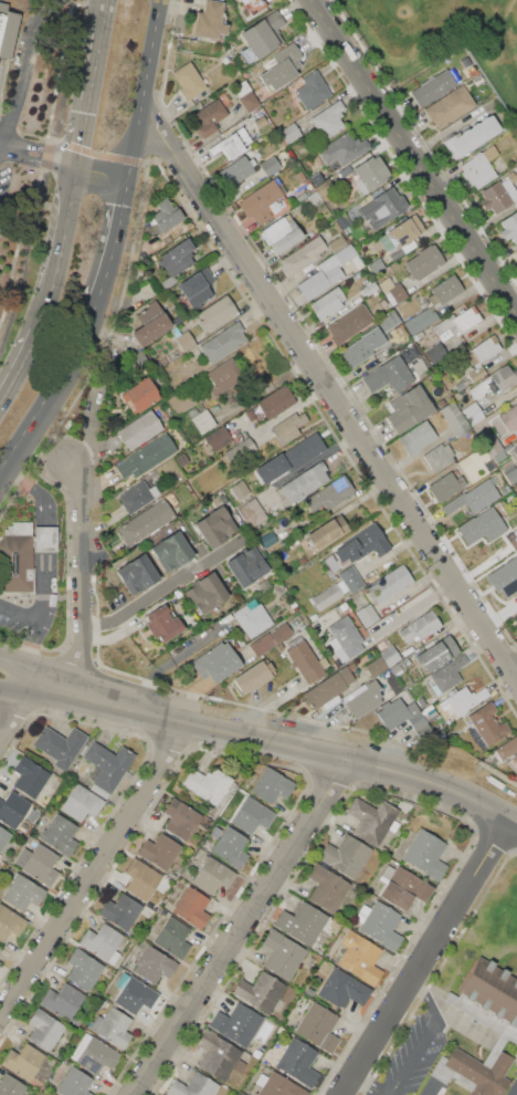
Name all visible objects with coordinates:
road: (109, 0)
building: (243, 1)
building: (253, 6)
road: (109, 18)
building: (209, 20)
building: (1, 23)
building: (262, 36)
park: (442, 36)
building: (466, 61)
building: (283, 66)
road: (24, 70)
building: (471, 71)
building: (189, 81)
building: (433, 87)
building: (313, 90)
road: (147, 91)
building: (246, 95)
road: (94, 102)
building: (450, 106)
building: (209, 117)
building: (328, 121)
building: (252, 124)
building: (291, 133)
building: (471, 136)
building: (231, 144)
road: (43, 147)
building: (342, 149)
road: (415, 155)
road: (39, 163)
building: (271, 165)
building: (479, 167)
building: (239, 169)
building: (345, 170)
building: (371, 174)
road: (106, 175)
building: (316, 178)
building: (516, 184)
building: (323, 189)
building: (499, 194)
building: (314, 198)
building: (262, 201)
building: (382, 207)
building: (166, 216)
building: (342, 221)
building: (509, 227)
building: (281, 233)
building: (402, 237)
road: (118, 244)
building: (337, 244)
road: (67, 250)
building: (516, 251)
building: (304, 255)
building: (178, 257)
building: (347, 257)
building: (425, 261)
building: (376, 267)
building: (320, 279)
building: (169, 281)
building: (196, 288)
building: (369, 289)
building: (392, 290)
building: (445, 290)
building: (327, 303)
building: (215, 312)
building: (178, 319)
building: (421, 320)
building: (150, 323)
building: (349, 323)
building: (456, 323)
building: (199, 336)
building: (182, 338)
building: (223, 342)
building: (362, 347)
building: (484, 350)
building: (435, 352)
building: (137, 359)
road: (23, 371)
building: (477, 372)
building: (390, 375)
building: (223, 377)
building: (495, 382)
road: (330, 389)
building: (140, 395)
road: (56, 400)
building: (181, 401)
building: (272, 404)
building: (410, 409)
building: (472, 414)
building: (454, 418)
building: (201, 419)
building: (506, 420)
building: (288, 427)
building: (139, 430)
building: (418, 437)
building: (218, 438)
building: (247, 445)
building: (492, 445)
building: (515, 450)
building: (302, 451)
building: (498, 456)
building: (146, 457)
building: (439, 457)
building: (465, 461)
building: (511, 473)
building: (304, 483)
building: (516, 486)
building: (445, 487)
building: (240, 489)
building: (505, 489)
road: (36, 492)
building: (329, 493)
building: (137, 497)
building: (474, 497)
building: (223, 499)
building: (253, 511)
building: (146, 522)
building: (476, 525)
building: (214, 526)
building: (327, 532)
building: (45, 538)
road: (46, 538)
building: (371, 540)
building: (513, 540)
building: (171, 551)
building: (17, 557)
building: (302, 560)
building: (246, 565)
building: (137, 574)
building: (504, 575)
building: (351, 578)
road: (83, 581)
building: (388, 584)
road: (160, 591)
building: (207, 592)
building: (326, 596)
road: (40, 609)
road: (18, 614)
building: (367, 615)
building: (252, 618)
building: (162, 624)
building: (516, 624)
building: (420, 626)
building: (516, 626)
building: (270, 638)
building: (345, 639)
building: (436, 654)
building: (389, 656)
building: (306, 661)
building: (217, 663)
building: (376, 667)
road: (24, 668)
building: (395, 668)
road: (516, 670)
building: (447, 675)
building: (252, 677)
building: (392, 681)
building: (328, 687)
road: (21, 689)
building: (363, 698)
building: (465, 700)
building: (421, 702)
road: (19, 710)
building: (429, 712)
building: (401, 716)
building: (487, 722)
building: (61, 744)
road: (283, 745)
building: (507, 748)
building: (515, 758)
building: (106, 766)
building: (30, 776)
building: (208, 784)
building: (272, 785)
building: (81, 802)
building: (12, 809)
building: (32, 815)
building: (252, 815)
building: (180, 818)
building: (371, 820)
building: (60, 834)
building: (3, 836)
building: (231, 846)
building: (160, 851)
building: (425, 854)
building: (345, 855)
building: (38, 864)
road: (88, 869)
building: (212, 875)
building: (140, 878)
building: (327, 887)
building: (402, 887)
building: (22, 891)
building: (192, 907)
building: (120, 910)
building: (10, 922)
building: (302, 922)
building: (379, 925)
road: (244, 928)
building: (172, 936)
building: (102, 942)
building: (283, 953)
road: (428, 957)
building: (360, 958)
building: (154, 964)
building: (83, 969)
building: (342, 989)
building: (261, 991)
building: (308, 991)
building: (134, 993)
building: (488, 998)
building: (63, 1001)
building: (236, 1023)
building: (113, 1026)
building: (318, 1028)
building: (43, 1029)
road: (422, 1037)
building: (94, 1054)
building: (219, 1055)
building: (23, 1061)
building: (298, 1062)
building: (476, 1070)
building: (74, 1083)
building: (277, 1085)
building: (10, 1086)
building: (193, 1086)
road: (368, 1086)
road: (511, 1087)
building: (50, 1094)

